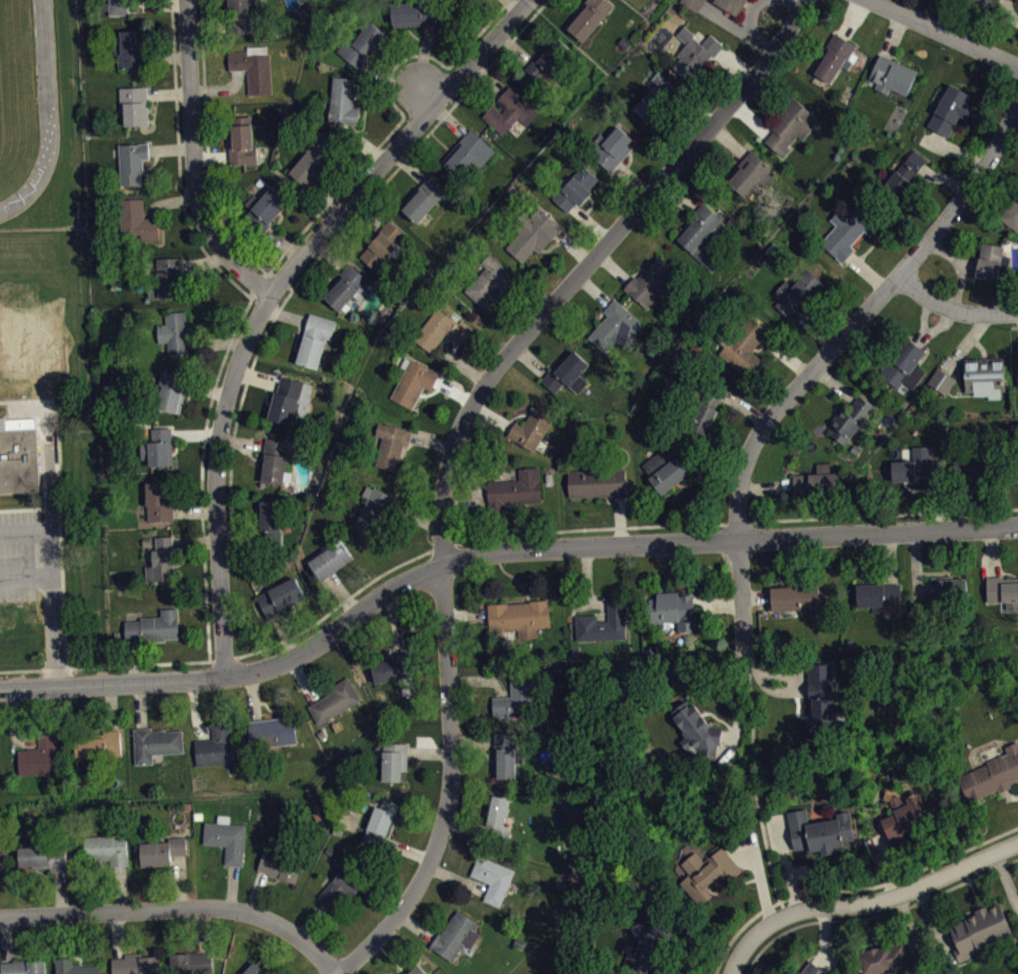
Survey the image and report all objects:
building: (470, 1)
building: (983, 1)
building: (464, 2)
road: (796, 2)
road: (158, 3)
road: (515, 4)
building: (693, 4)
building: (732, 5)
building: (118, 6)
building: (414, 12)
building: (240, 15)
building: (589, 17)
road: (748, 17)
road: (851, 17)
road: (208, 24)
road: (736, 27)
road: (483, 29)
road: (944, 33)
road: (893, 35)
building: (362, 44)
road: (514, 47)
building: (131, 49)
building: (695, 53)
road: (167, 56)
building: (834, 57)
building: (548, 61)
road: (422, 63)
road: (736, 63)
track: (45, 67)
building: (253, 68)
building: (892, 74)
road: (488, 76)
road: (399, 80)
road: (221, 87)
road: (168, 92)
building: (657, 98)
building: (343, 101)
building: (134, 104)
road: (697, 108)
building: (950, 109)
building: (510, 111)
road: (448, 118)
road: (751, 118)
building: (791, 125)
building: (242, 140)
road: (729, 140)
road: (362, 142)
road: (207, 145)
road: (378, 145)
road: (171, 147)
building: (611, 147)
road: (955, 147)
road: (212, 155)
building: (468, 155)
building: (313, 158)
road: (194, 160)
building: (132, 161)
road: (408, 164)
building: (751, 173)
building: (904, 175)
road: (944, 177)
road: (634, 179)
building: (575, 189)
road: (328, 193)
building: (425, 197)
road: (987, 197)
road: (677, 198)
road: (169, 200)
building: (264, 209)
road: (368, 209)
building: (1011, 213)
building: (137, 219)
road: (591, 224)
building: (850, 228)
building: (533, 232)
building: (701, 234)
road: (283, 242)
building: (382, 244)
road: (573, 246)
road: (325, 248)
road: (330, 252)
road: (204, 261)
building: (991, 261)
road: (968, 265)
road: (613, 267)
road: (959, 267)
road: (867, 272)
building: (166, 278)
road: (281, 278)
road: (256, 281)
building: (490, 281)
building: (651, 281)
building: (346, 286)
road: (593, 289)
building: (797, 291)
road: (270, 294)
road: (953, 309)
road: (285, 315)
road: (924, 315)
road: (240, 319)
road: (509, 319)
park: (33, 325)
road: (1015, 325)
building: (616, 326)
road: (814, 328)
road: (935, 328)
building: (442, 330)
building: (175, 332)
building: (315, 339)
road: (216, 341)
road: (967, 342)
building: (743, 345)
road: (787, 355)
road: (824, 356)
road: (531, 358)
road: (460, 364)
building: (904, 365)
building: (567, 372)
building: (1017, 372)
road: (256, 375)
building: (984, 376)
building: (941, 380)
building: (414, 382)
road: (835, 384)
road: (208, 389)
road: (455, 390)
building: (172, 391)
building: (286, 399)
road: (746, 407)
building: (707, 408)
road: (9, 410)
road: (492, 415)
building: (849, 419)
building: (533, 426)
road: (196, 433)
road: (242, 441)
road: (432, 442)
building: (392, 443)
road: (454, 443)
building: (159, 446)
building: (856, 449)
building: (19, 458)
building: (275, 460)
building: (917, 465)
building: (980, 465)
building: (674, 469)
road: (721, 469)
road: (713, 479)
building: (818, 479)
building: (597, 482)
road: (767, 487)
building: (515, 490)
building: (159, 501)
road: (941, 502)
road: (465, 503)
road: (965, 504)
road: (22, 508)
building: (376, 509)
road: (195, 510)
road: (58, 511)
road: (883, 514)
road: (418, 517)
road: (619, 520)
road: (737, 522)
building: (270, 523)
road: (590, 527)
road: (237, 534)
road: (195, 540)
road: (443, 546)
road: (493, 551)
road: (993, 551)
parking lot: (18, 555)
road: (890, 557)
building: (162, 559)
building: (331, 559)
road: (916, 565)
road: (25, 571)
road: (51, 581)
road: (587, 581)
building: (948, 589)
building: (1002, 591)
road: (342, 594)
building: (878, 594)
building: (281, 596)
road: (756, 596)
building: (795, 597)
road: (718, 601)
road: (335, 606)
building: (674, 609)
road: (466, 614)
building: (520, 616)
road: (396, 620)
building: (604, 621)
building: (153, 627)
road: (285, 633)
road: (222, 658)
road: (135, 660)
road: (138, 663)
building: (394, 668)
road: (33, 669)
road: (768, 673)
road: (303, 679)
road: (480, 679)
road: (253, 695)
building: (516, 695)
road: (727, 697)
building: (820, 698)
building: (335, 700)
road: (141, 704)
road: (112, 705)
road: (195, 709)
road: (12, 723)
building: (697, 729)
building: (272, 731)
road: (473, 740)
building: (155, 743)
building: (100, 744)
building: (215, 746)
road: (430, 751)
building: (39, 756)
building: (504, 756)
building: (395, 761)
building: (991, 775)
road: (755, 788)
building: (909, 816)
building: (499, 818)
building: (380, 823)
road: (469, 826)
building: (820, 832)
building: (226, 837)
building: (107, 848)
road: (407, 849)
building: (162, 851)
building: (43, 856)
road: (785, 859)
road: (881, 861)
building: (2, 862)
building: (279, 864)
road: (759, 872)
building: (708, 873)
road: (902, 875)
road: (457, 878)
building: (493, 878)
road: (1006, 878)
road: (181, 880)
road: (232, 886)
road: (121, 887)
building: (340, 888)
road: (256, 891)
road: (61, 892)
road: (895, 895)
road: (178, 906)
road: (876, 915)
road: (933, 917)
road: (311, 920)
road: (417, 925)
road: (205, 929)
road: (740, 929)
road: (911, 929)
building: (982, 932)
road: (117, 933)
road: (63, 935)
building: (456, 935)
road: (824, 937)
road: (6, 939)
building: (519, 943)
building: (647, 944)
road: (746, 946)
building: (885, 958)
building: (191, 963)
building: (136, 964)
building: (23, 966)
building: (74, 967)
building: (254, 969)
building: (813, 969)
building: (418, 970)

